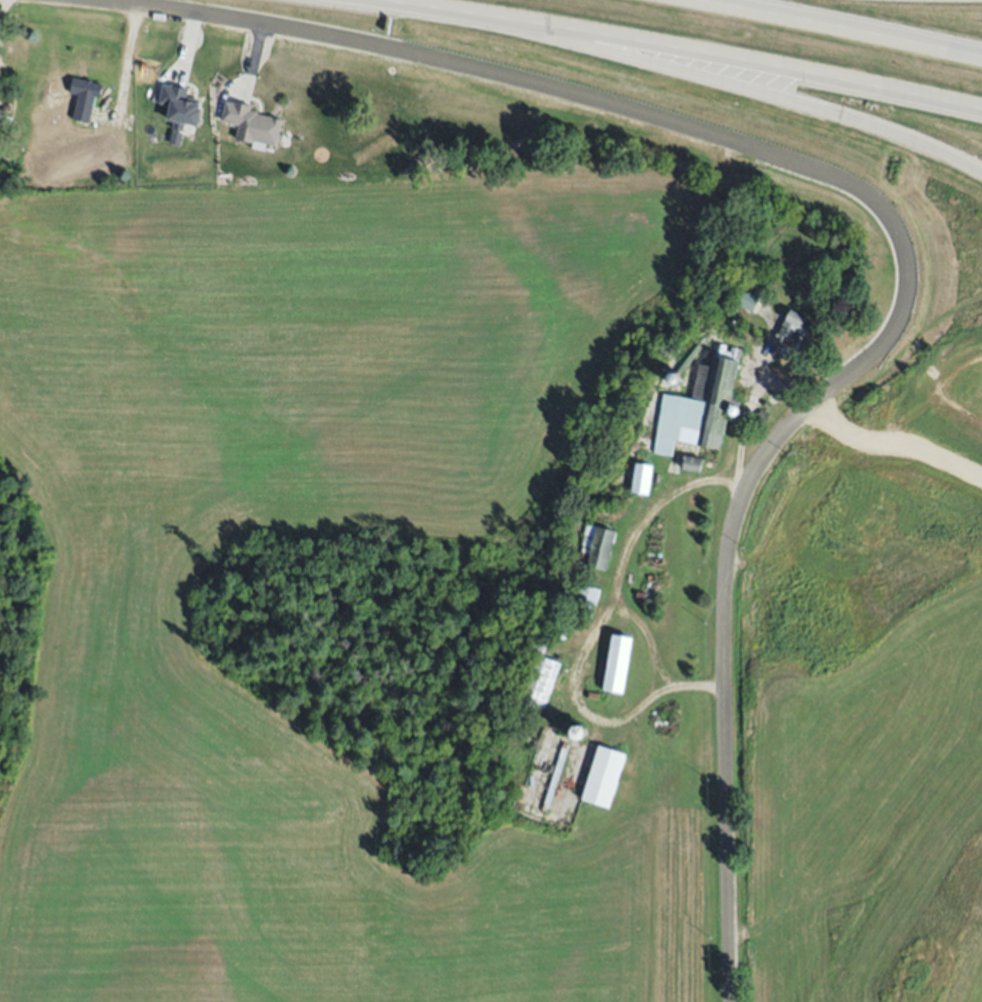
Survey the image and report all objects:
road: (3, 9)
road: (847, 26)
road: (681, 52)
road: (126, 61)
road: (745, 87)
building: (85, 97)
building: (179, 108)
building: (250, 124)
building: (31, 158)
building: (92, 163)
road: (895, 232)
building: (755, 274)
building: (746, 300)
building: (791, 326)
building: (689, 359)
road: (750, 403)
building: (700, 407)
building: (693, 464)
building: (642, 478)
building: (619, 505)
building: (601, 508)
building: (596, 545)
road: (613, 576)
building: (586, 600)
building: (541, 647)
building: (618, 663)
building: (539, 682)
road: (576, 702)
building: (603, 776)
building: (555, 777)

